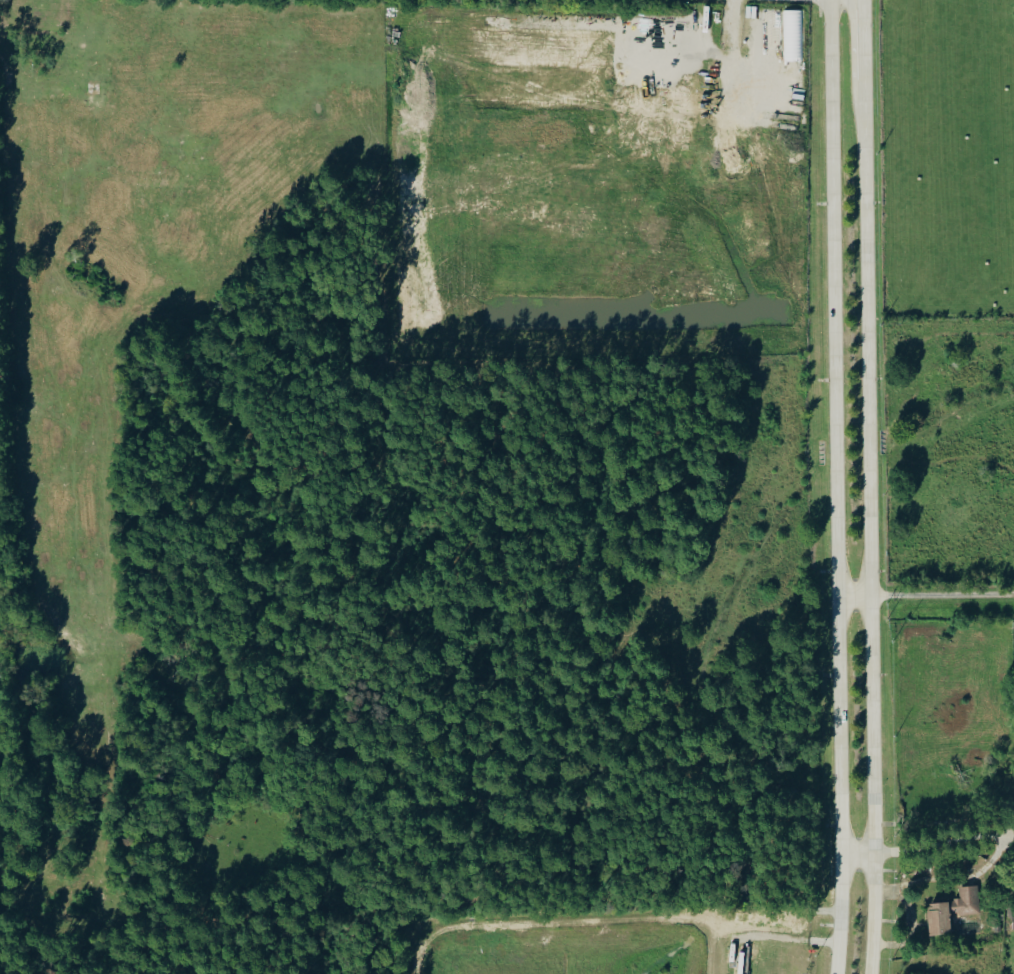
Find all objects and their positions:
building: (772, 30)
road: (864, 40)
road: (733, 56)
crop: (945, 158)
road: (835, 399)
road: (869, 439)
road: (943, 594)
road: (855, 595)
road: (859, 853)
road: (875, 872)
road: (925, 883)
road: (841, 886)
road: (899, 895)
building: (953, 910)
road: (791, 937)
road: (871, 959)

